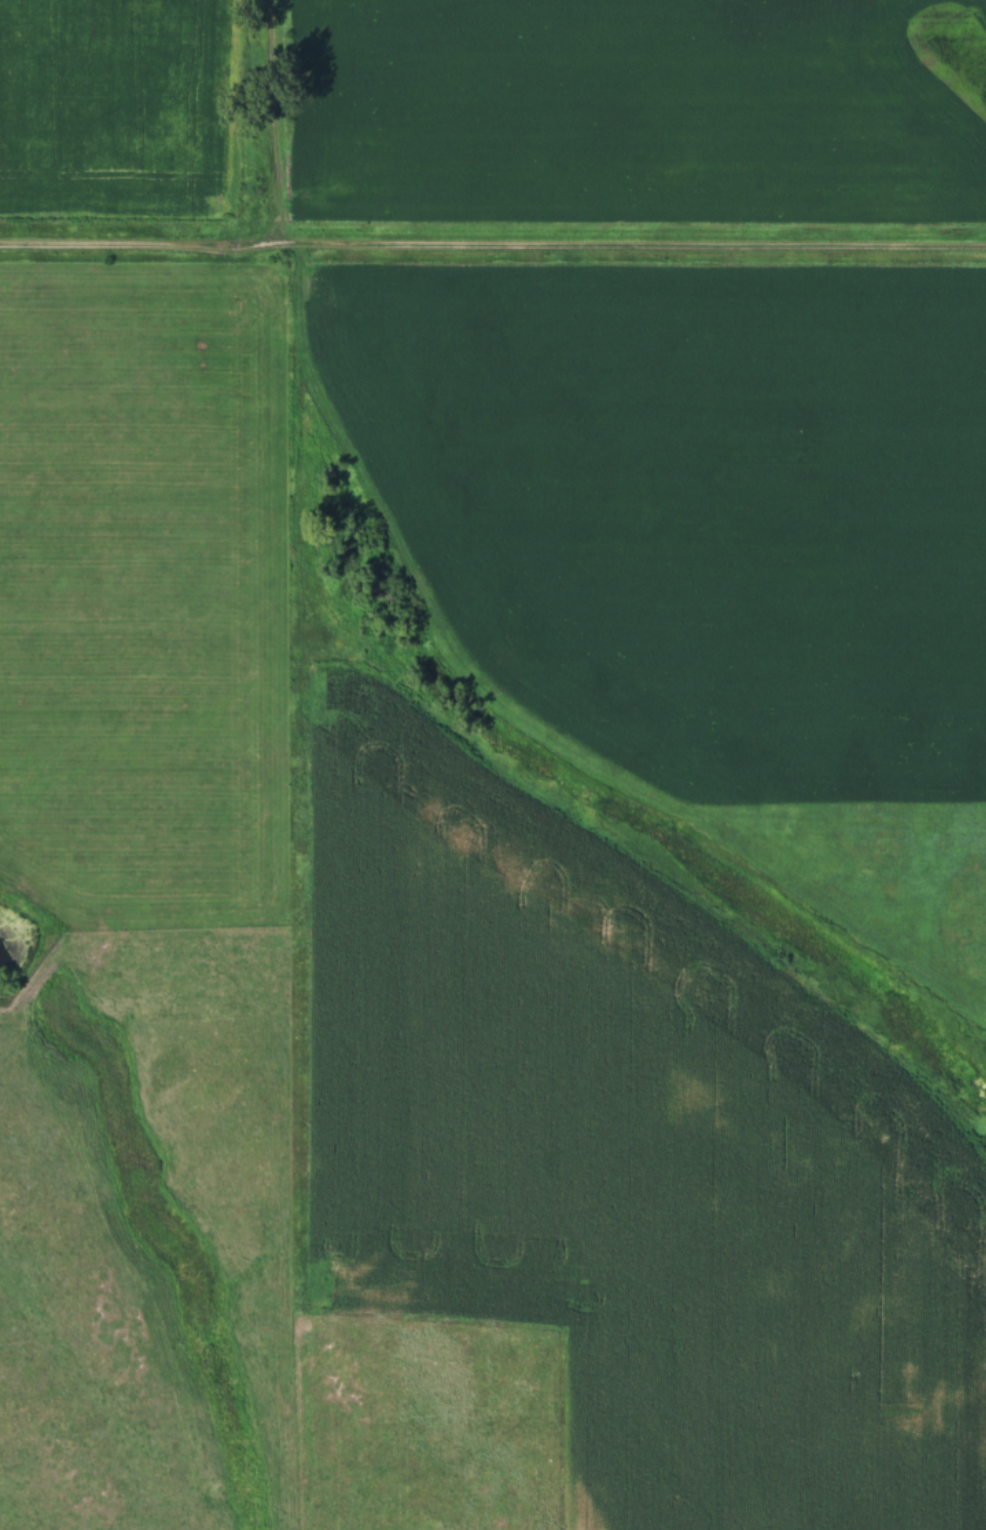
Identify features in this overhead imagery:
road: (273, 122)
road: (493, 244)

